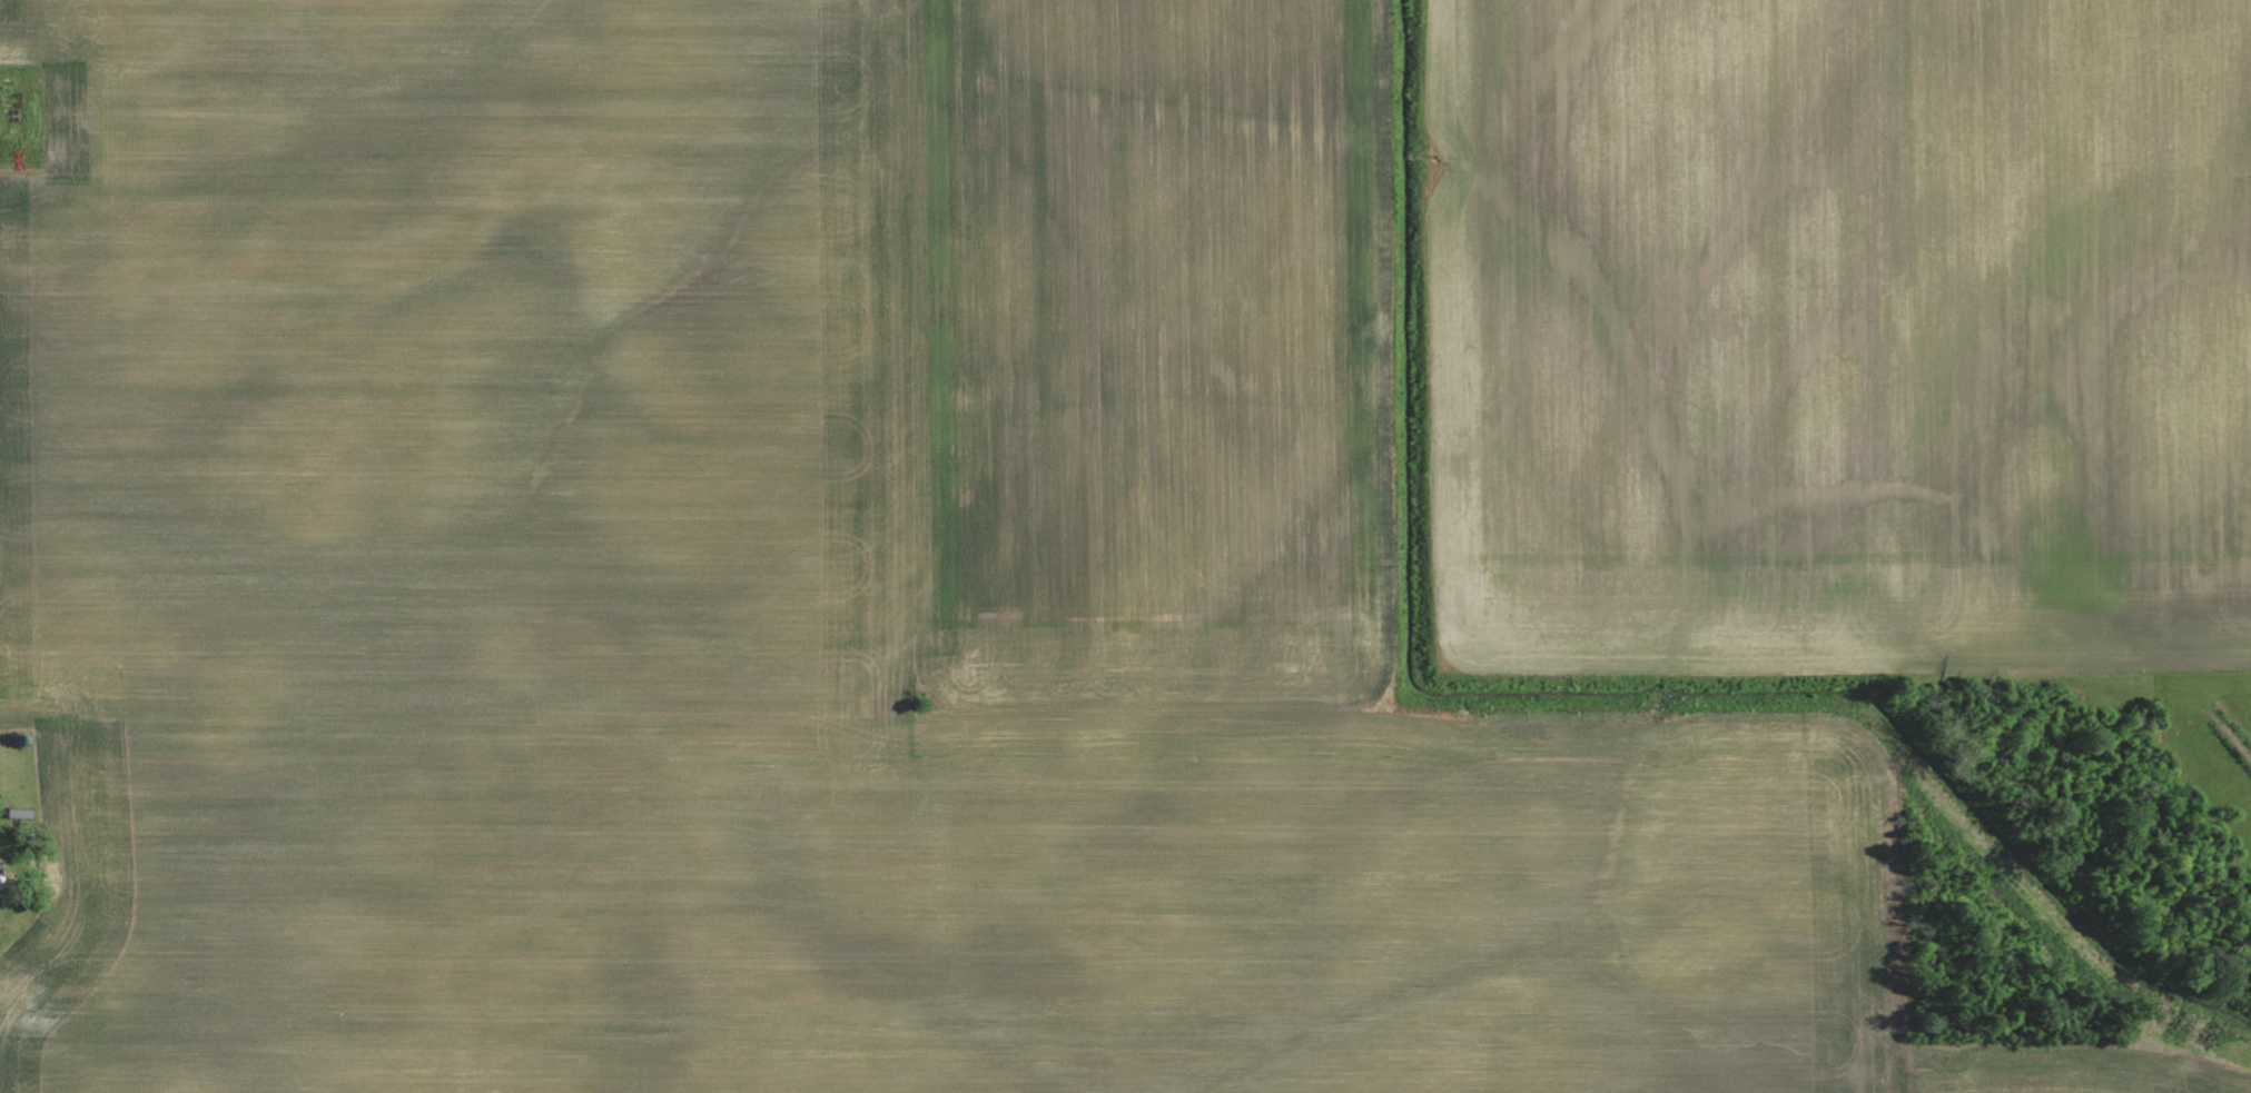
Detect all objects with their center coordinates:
building: (7, 99)
building: (0, 871)

